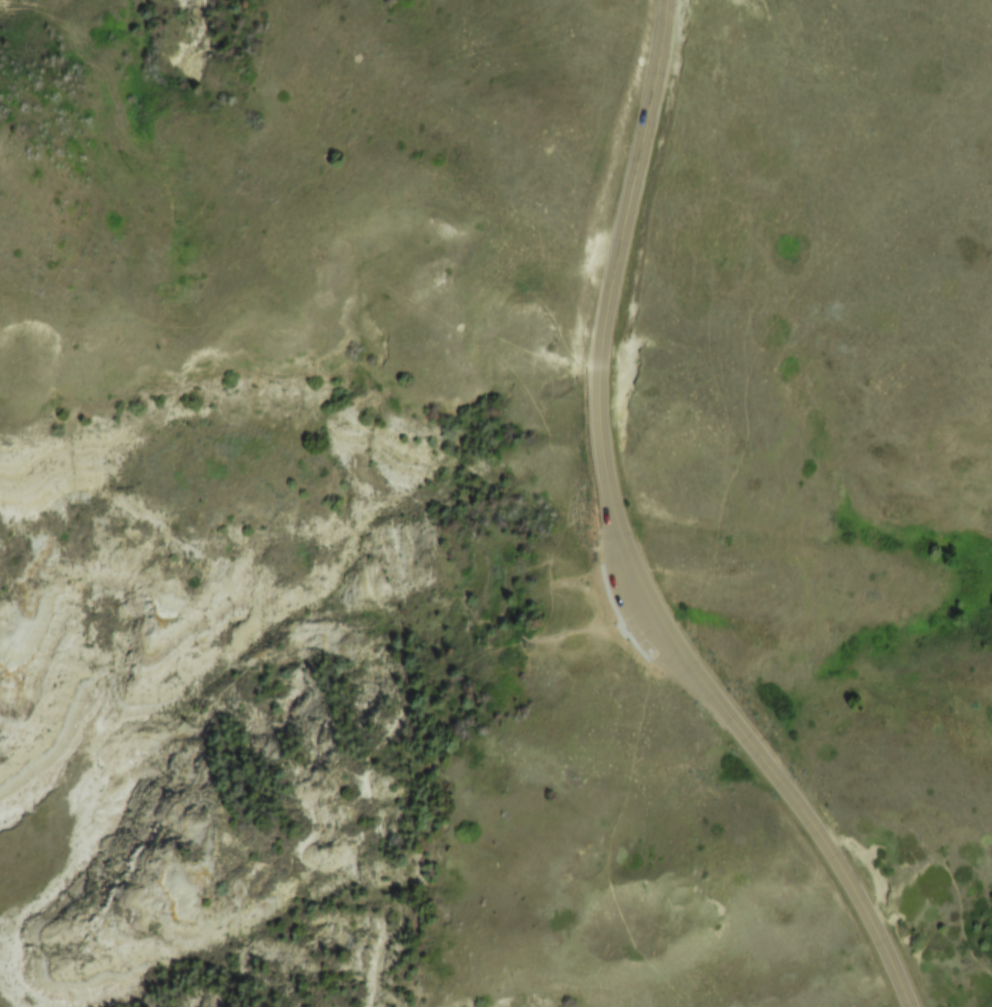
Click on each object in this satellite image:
road: (621, 539)

